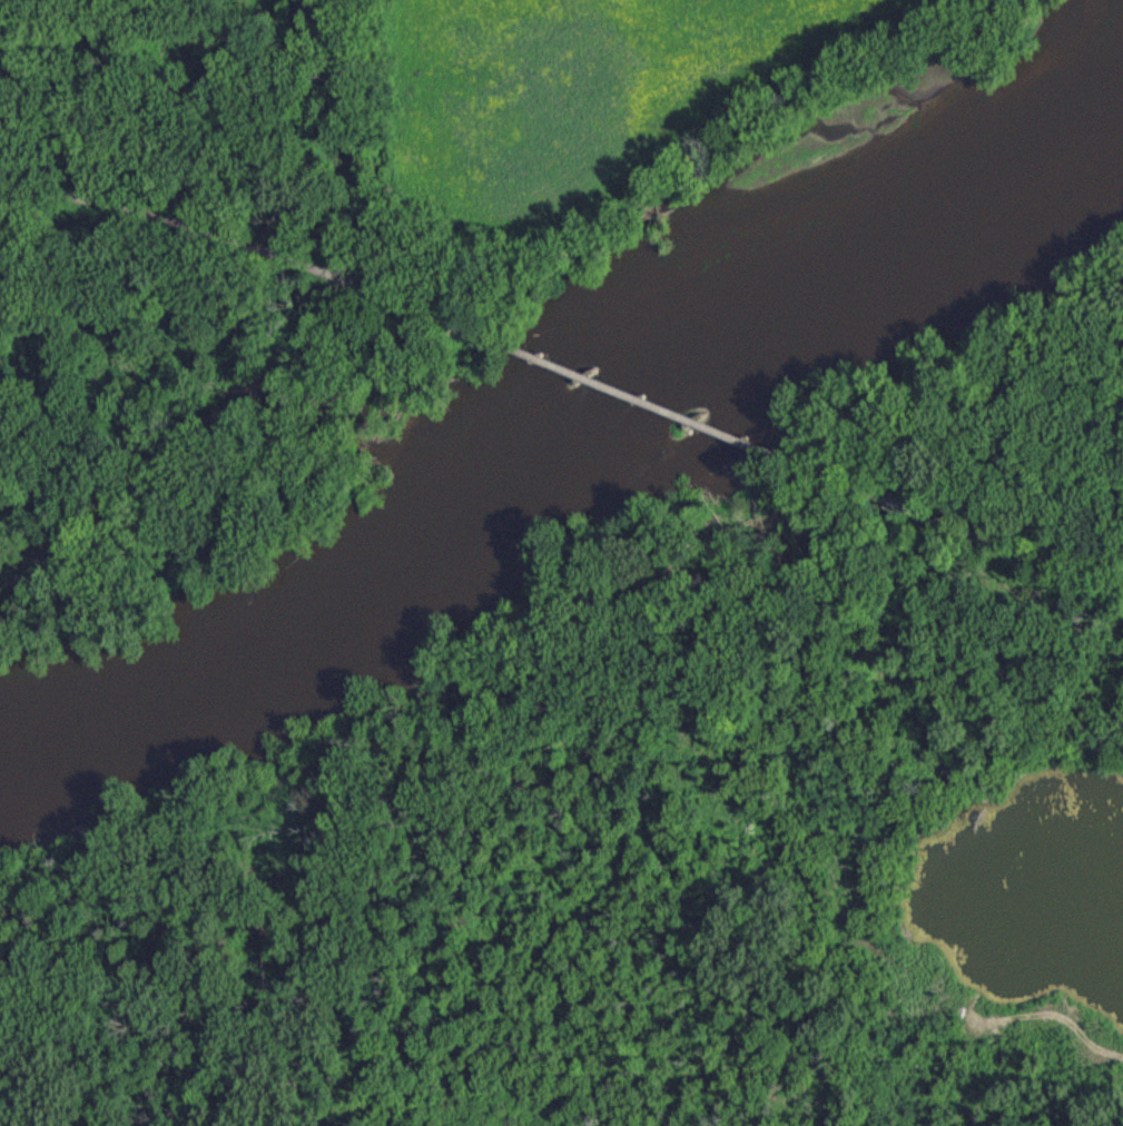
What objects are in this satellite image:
road: (254, 245)
road: (646, 394)
river: (567, 433)
road: (958, 516)

